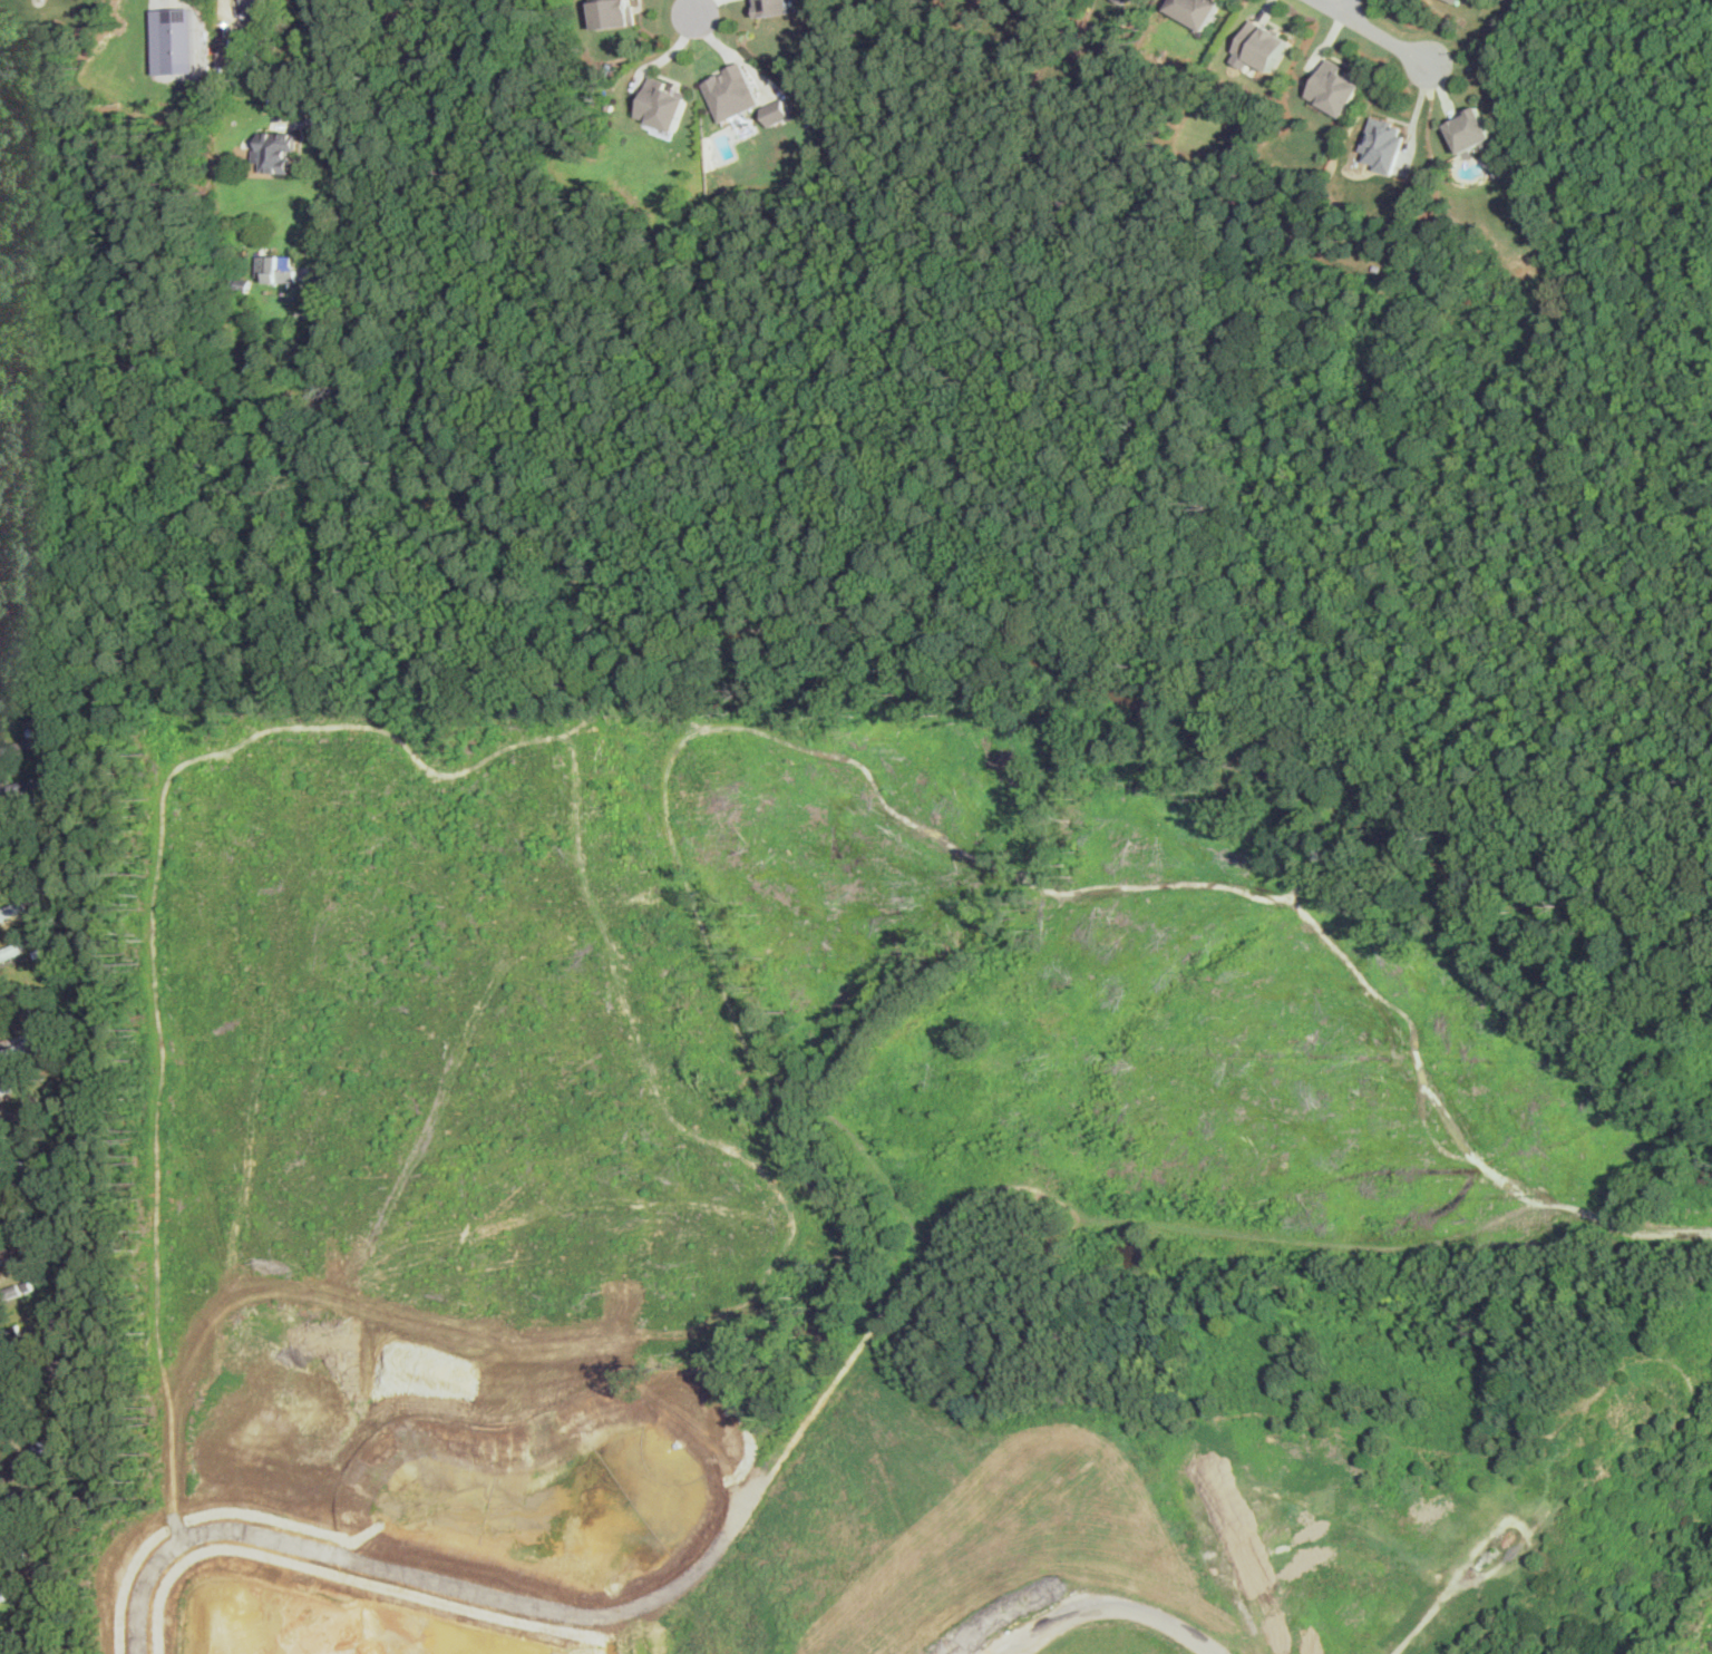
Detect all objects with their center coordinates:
building: (1121, 0)
building: (1141, 1)
building: (1455, 1)
road: (1341, 4)
building: (775, 7)
building: (253, 8)
building: (1196, 10)
road: (694, 11)
building: (614, 12)
road: (1378, 32)
building: (174, 39)
building: (223, 43)
building: (1261, 46)
building: (230, 60)
building: (1336, 87)
building: (732, 91)
building: (663, 103)
building: (777, 111)
building: (1472, 130)
road: (339, 132)
building: (1384, 143)
building: (275, 148)
building: (276, 266)
building: (11, 950)
building: (13, 1045)
building: (1, 1388)
building: (0, 1555)
road: (1118, 1606)

